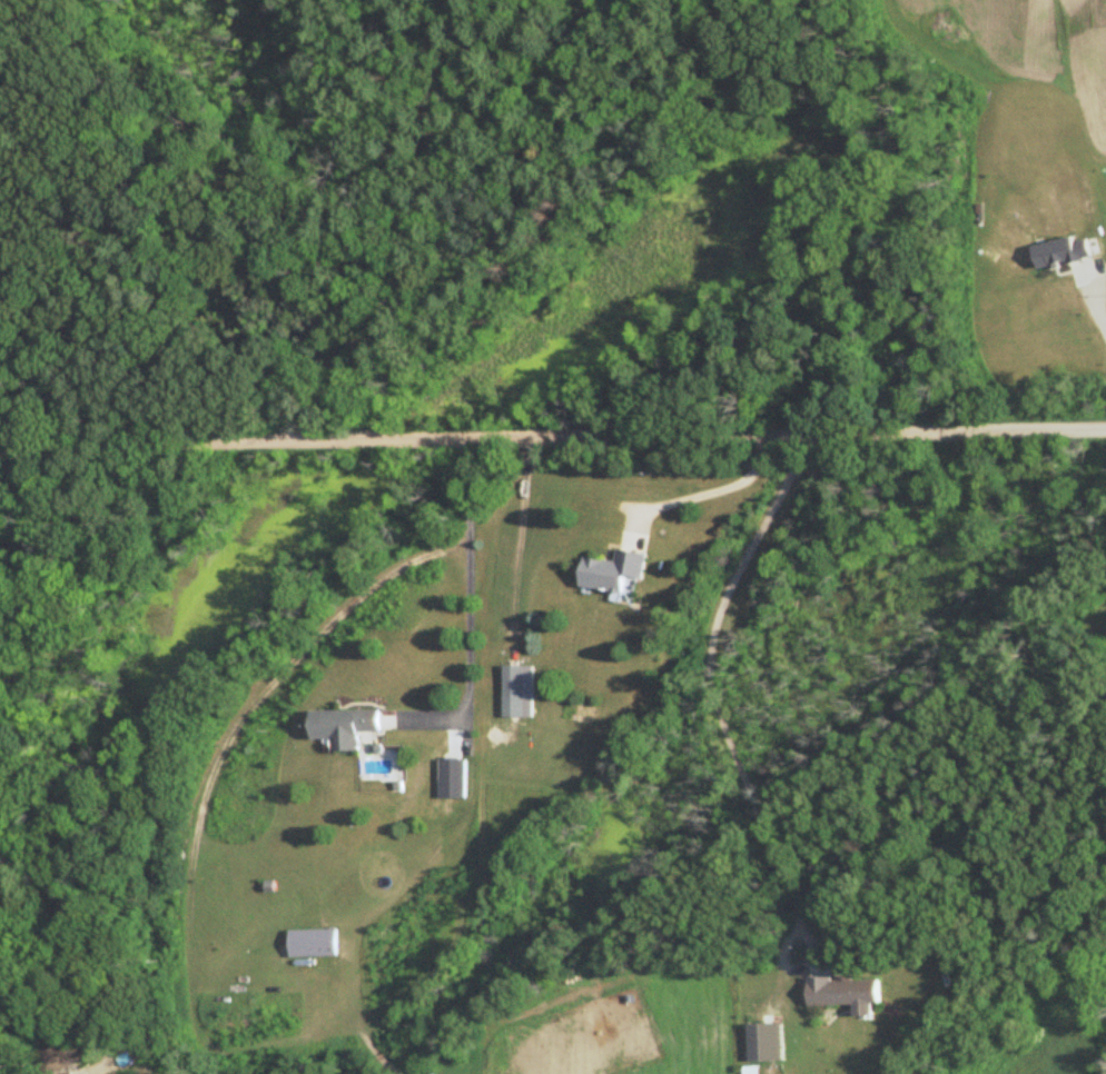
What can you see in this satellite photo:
road: (1094, 309)
road: (552, 434)
road: (36, 488)
road: (711, 491)
building: (614, 573)
road: (468, 611)
building: (513, 678)
building: (343, 726)
road: (725, 728)
road: (61, 853)
building: (320, 943)
building: (846, 994)
building: (62, 1055)
building: (75, 1073)

